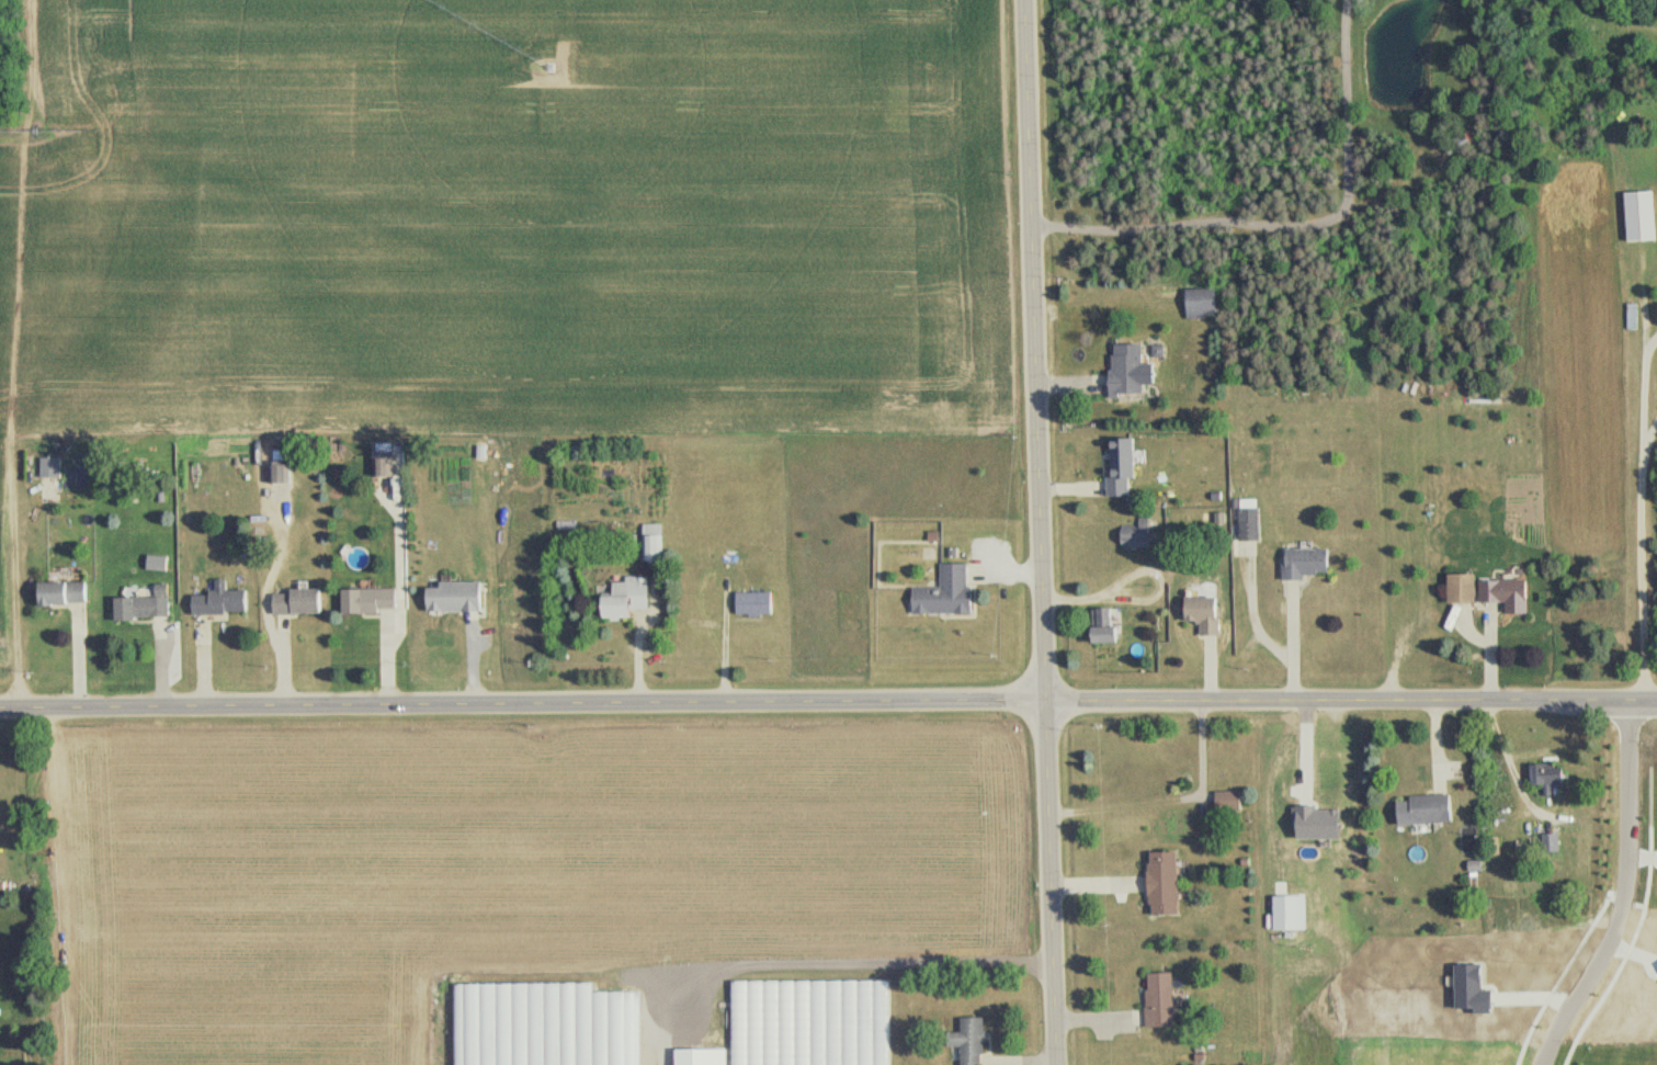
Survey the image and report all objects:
building: (1655, 134)
building: (1456, 145)
building: (1638, 217)
road: (1294, 225)
building: (1201, 304)
building: (1125, 370)
road: (1647, 390)
road: (1650, 435)
building: (382, 464)
building: (48, 467)
building: (1120, 468)
building: (279, 474)
building: (1248, 522)
road: (1041, 532)
building: (1134, 541)
building: (651, 543)
building: (1304, 563)
road: (1647, 576)
building: (1460, 589)
building: (945, 593)
building: (60, 594)
building: (1505, 594)
building: (453, 598)
building: (624, 598)
building: (218, 601)
building: (367, 602)
building: (295, 603)
building: (752, 604)
building: (140, 609)
building: (1202, 615)
building: (1102, 627)
road: (1271, 645)
road: (1292, 684)
road: (828, 701)
road: (1513, 762)
building: (1545, 775)
road: (1169, 800)
building: (1227, 802)
building: (1422, 809)
building: (1550, 843)
building: (1162, 884)
road: (1626, 896)
road: (856, 965)
building: (1159, 998)
building: (1536, 1002)
building: (812, 1022)
building: (527, 1023)
building: (968, 1041)
building: (700, 1056)

